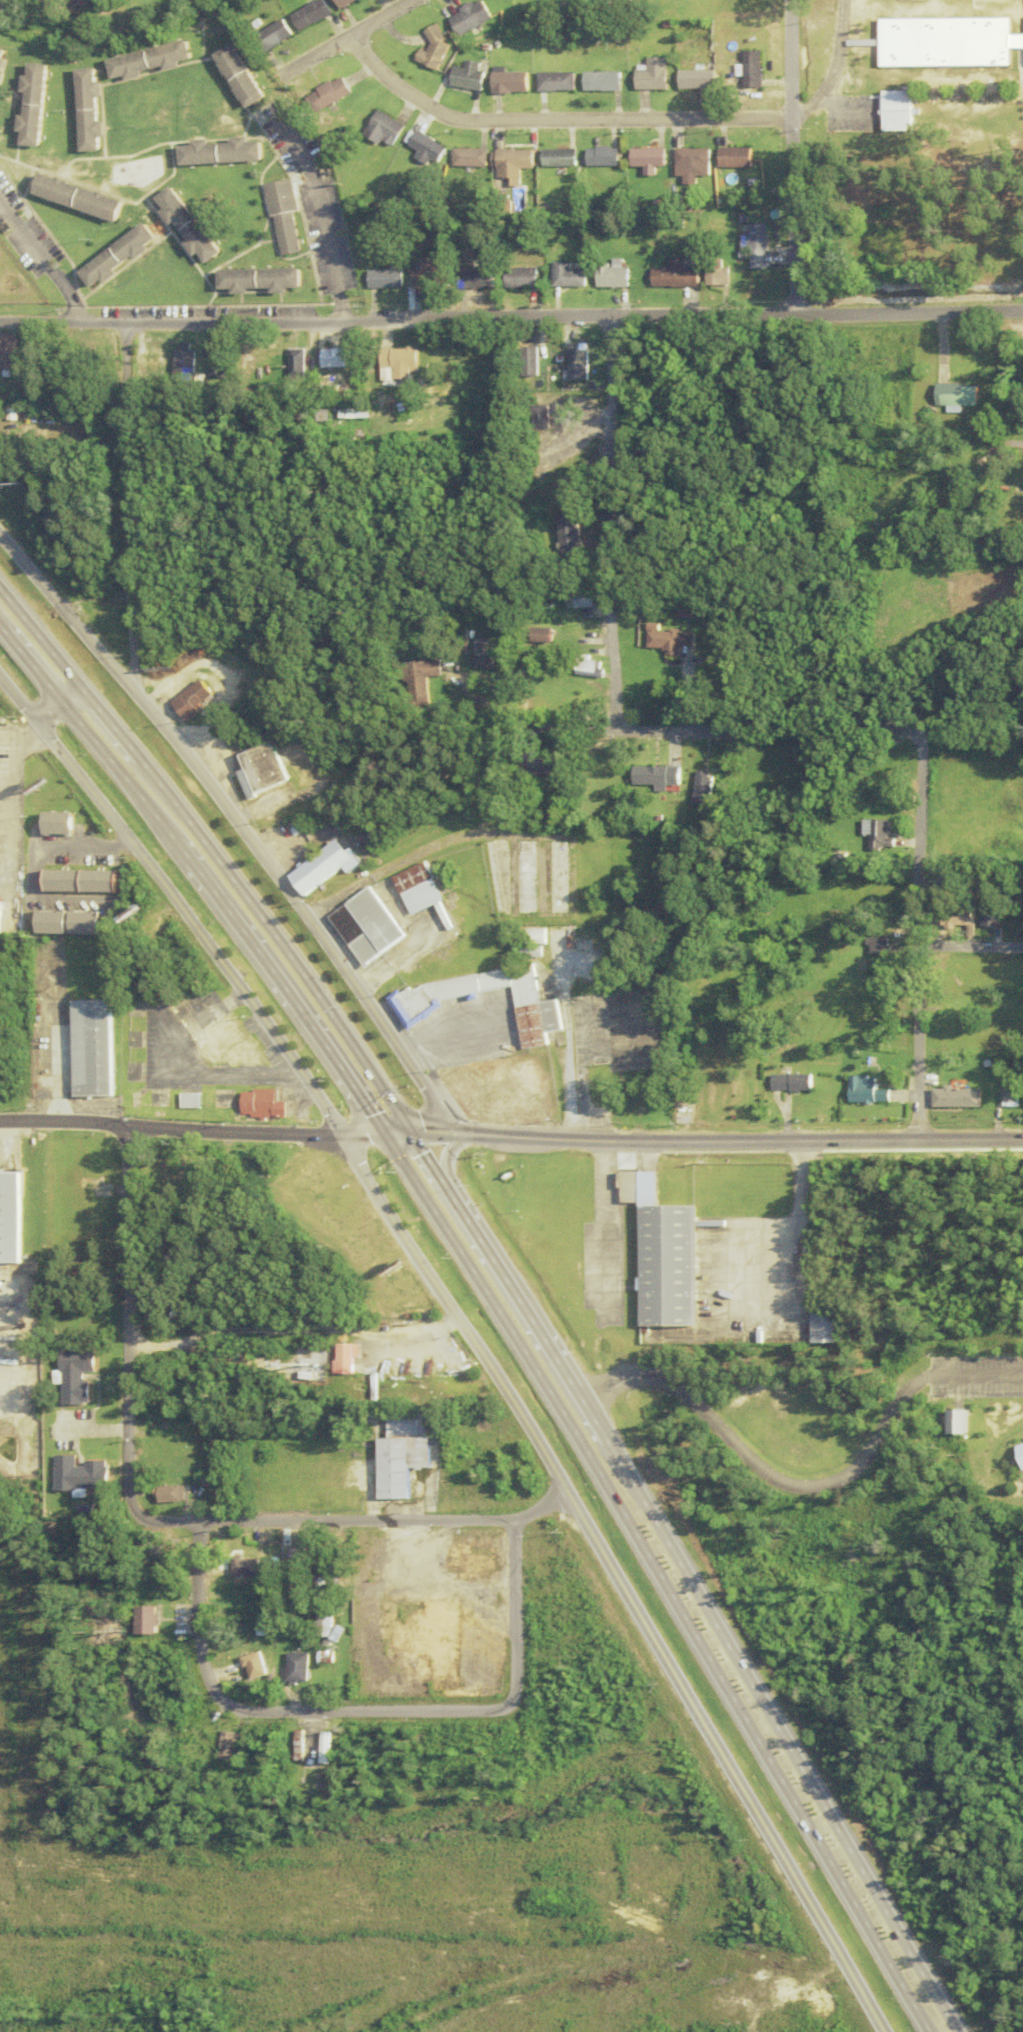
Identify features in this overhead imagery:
building: (40, 0)
building: (80, 1)
building: (343, 2)
building: (522, 2)
building: (311, 14)
building: (472, 18)
building: (273, 36)
road: (346, 38)
building: (946, 41)
building: (436, 50)
building: (2, 57)
building: (150, 62)
road: (836, 67)
building: (757, 69)
building: (658, 75)
building: (241, 76)
building: (469, 76)
building: (702, 80)
building: (605, 81)
building: (511, 82)
building: (557, 82)
building: (329, 94)
building: (33, 105)
parking lot: (1022, 109)
building: (90, 110)
building: (899, 110)
road: (554, 119)
building: (427, 150)
building: (223, 151)
building: (601, 157)
building: (738, 157)
building: (468, 158)
building: (557, 158)
road: (790, 158)
building: (648, 159)
building: (511, 164)
building: (693, 164)
building: (78, 197)
road: (317, 216)
building: (283, 218)
building: (188, 226)
building: (754, 246)
building: (118, 257)
road: (40, 269)
building: (714, 272)
building: (424, 274)
building: (608, 275)
building: (671, 275)
building: (564, 276)
building: (385, 277)
building: (518, 278)
building: (477, 279)
building: (261, 280)
road: (511, 317)
building: (5, 352)
building: (342, 358)
building: (146, 360)
building: (527, 361)
building: (182, 362)
building: (402, 362)
building: (215, 363)
building: (573, 363)
building: (298, 367)
building: (955, 395)
building: (537, 417)
road: (1015, 444)
building: (1020, 487)
road: (120, 506)
road: (607, 524)
building: (566, 535)
building: (579, 598)
building: (685, 610)
building: (539, 635)
building: (665, 639)
building: (482, 653)
building: (415, 678)
building: (183, 699)
road: (52, 706)
road: (76, 731)
road: (725, 733)
building: (537, 766)
building: (257, 769)
building: (652, 777)
building: (699, 788)
road: (5, 794)
building: (497, 821)
building: (55, 823)
building: (375, 829)
road: (234, 831)
building: (878, 834)
road: (204, 862)
road: (391, 862)
building: (315, 867)
building: (951, 876)
building: (520, 877)
building: (553, 877)
building: (493, 878)
building: (76, 881)
building: (413, 888)
building: (879, 896)
road: (169, 907)
building: (993, 910)
building: (961, 916)
building: (47, 922)
building: (80, 923)
building: (360, 926)
road: (918, 937)
building: (528, 942)
building: (882, 945)
road: (970, 947)
road: (262, 979)
building: (411, 1005)
building: (220, 1044)
building: (85, 1048)
road: (560, 1050)
building: (519, 1080)
building: (796, 1082)
building: (865, 1090)
building: (461, 1092)
gas station: (461, 1092)
building: (1010, 1094)
building: (956, 1097)
building: (181, 1100)
building: (253, 1104)
road: (165, 1128)
traffic signals: (373, 1132)
road: (386, 1132)
traffic signals: (400, 1132)
road: (423, 1132)
road: (352, 1133)
road: (734, 1141)
road: (436, 1153)
road: (417, 1155)
building: (155, 1173)
building: (319, 1188)
building: (7, 1217)
road: (800, 1226)
road: (604, 1232)
building: (666, 1253)
building: (395, 1291)
building: (140, 1305)
road: (525, 1317)
building: (835, 1325)
road: (285, 1330)
building: (339, 1358)
road: (649, 1373)
road: (980, 1375)
building: (69, 1376)
building: (972, 1422)
building: (155, 1423)
building: (395, 1451)
building: (152, 1457)
building: (74, 1474)
road: (801, 1485)
building: (166, 1494)
road: (152, 1519)
building: (294, 1555)
road: (644, 1558)
building: (466, 1562)
building: (238, 1567)
building: (268, 1568)
road: (613, 1579)
building: (144, 1621)
building: (320, 1622)
building: (423, 1629)
building: (322, 1657)
building: (236, 1660)
building: (294, 1667)
road: (364, 1711)
building: (224, 1745)
building: (297, 1746)
road: (784, 1746)
building: (322, 1748)
road: (918, 2011)

